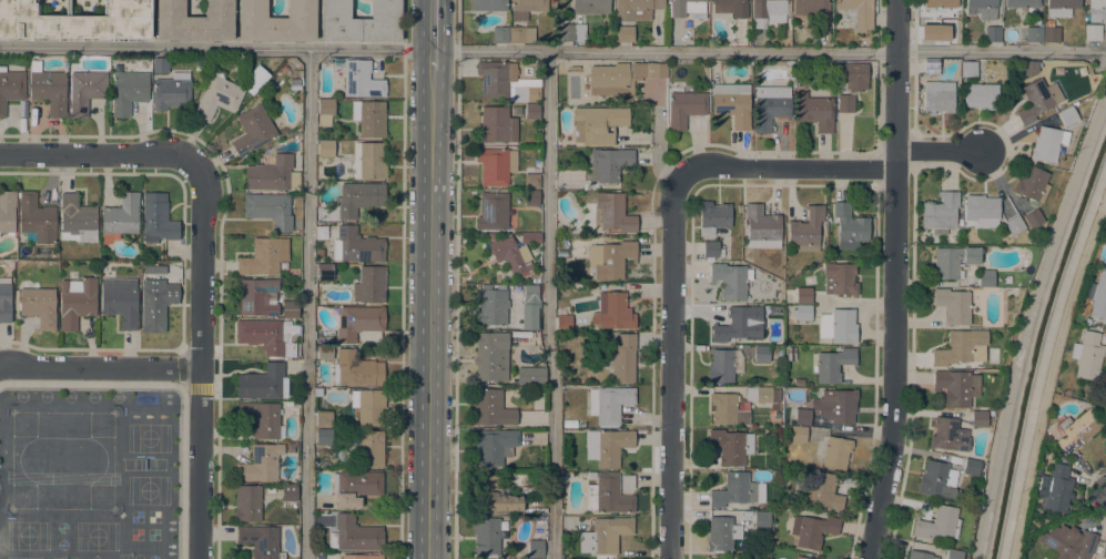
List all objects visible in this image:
building: (1022, 3)
building: (488, 4)
building: (938, 6)
building: (591, 7)
building: (684, 7)
building: (731, 7)
building: (1061, 7)
building: (526, 8)
building: (812, 8)
building: (982, 8)
building: (636, 9)
building: (1096, 10)
building: (768, 11)
building: (859, 12)
building: (75, 21)
building: (194, 21)
building: (276, 21)
building: (361, 21)
building: (571, 31)
building: (1051, 32)
building: (1092, 32)
building: (521, 33)
building: (623, 33)
building: (993, 33)
building: (1033, 33)
road: (433, 34)
building: (500, 34)
building: (931, 35)
road: (552, 51)
building: (245, 62)
building: (34, 63)
building: (161, 65)
building: (931, 67)
building: (575, 68)
building: (1028, 68)
building: (852, 75)
building: (622, 77)
building: (256, 79)
building: (361, 80)
building: (506, 82)
building: (10, 87)
building: (977, 89)
building: (49, 90)
building: (85, 91)
building: (128, 91)
building: (171, 92)
building: (217, 96)
building: (937, 96)
building: (1037, 99)
building: (845, 102)
building: (732, 103)
building: (770, 105)
building: (326, 108)
building: (684, 108)
building: (531, 110)
building: (814, 111)
building: (1067, 115)
building: (369, 116)
building: (598, 123)
building: (496, 124)
building: (253, 130)
building: (1045, 144)
building: (326, 149)
road: (937, 150)
road: (103, 155)
building: (368, 161)
building: (608, 163)
building: (496, 165)
road: (785, 169)
building: (272, 174)
building: (531, 181)
building: (1032, 183)
building: (358, 197)
building: (531, 197)
building: (270, 209)
building: (982, 210)
building: (7, 211)
building: (493, 211)
building: (941, 211)
building: (613, 214)
building: (712, 216)
building: (120, 217)
building: (1033, 217)
building: (37, 218)
building: (77, 218)
building: (158, 218)
building: (1013, 224)
building: (849, 226)
building: (761, 227)
building: (806, 230)
building: (488, 235)
building: (530, 238)
building: (356, 245)
building: (712, 248)
building: (562, 253)
building: (511, 255)
building: (264, 256)
building: (611, 258)
building: (953, 261)
building: (172, 265)
building: (325, 272)
building: (986, 277)
road: (404, 278)
road: (455, 278)
building: (840, 278)
building: (731, 279)
road: (893, 279)
building: (369, 284)
building: (1097, 294)
building: (804, 295)
building: (257, 296)
building: (788, 298)
building: (4, 299)
building: (120, 299)
building: (77, 301)
building: (38, 303)
building: (156, 303)
road: (307, 303)
road: (548, 305)
building: (953, 305)
building: (491, 306)
building: (530, 307)
building: (290, 308)
building: (613, 312)
building: (802, 312)
road: (430, 315)
building: (357, 322)
building: (564, 322)
building: (739, 324)
building: (842, 326)
building: (264, 334)
building: (961, 347)
building: (325, 353)
building: (993, 353)
building: (762, 354)
building: (791, 354)
building: (1086, 355)
building: (491, 356)
road: (202, 357)
building: (623, 357)
building: (724, 365)
building: (833, 365)
road: (101, 367)
road: (672, 368)
building: (356, 369)
road: (1049, 370)
building: (530, 375)
building: (799, 382)
building: (263, 383)
building: (956, 387)
building: (1066, 392)
building: (758, 394)
building: (287, 404)
building: (609, 404)
building: (368, 405)
building: (836, 406)
building: (726, 407)
building: (491, 408)
building: (803, 416)
building: (978, 417)
building: (262, 418)
building: (324, 419)
building: (1076, 430)
building: (799, 434)
building: (948, 435)
building: (324, 437)
building: (494, 446)
building: (609, 446)
building: (731, 446)
building: (290, 447)
building: (369, 448)
building: (833, 451)
building: (260, 463)
building: (971, 467)
building: (591, 476)
building: (936, 479)
building: (355, 486)
building: (1054, 488)
building: (271, 489)
building: (821, 489)
building: (733, 490)
building: (610, 494)
building: (288, 495)
building: (494, 495)
building: (247, 502)
building: (761, 522)
building: (937, 522)
building: (812, 530)
building: (721, 533)
building: (354, 535)
building: (606, 535)
building: (486, 536)
building: (261, 540)
building: (1067, 541)
building: (536, 548)
building: (1103, 548)
building: (317, 553)
building: (952, 555)
building: (566, 556)
building: (919, 556)
building: (362, 557)
building: (802, 557)
building: (712, 558)

